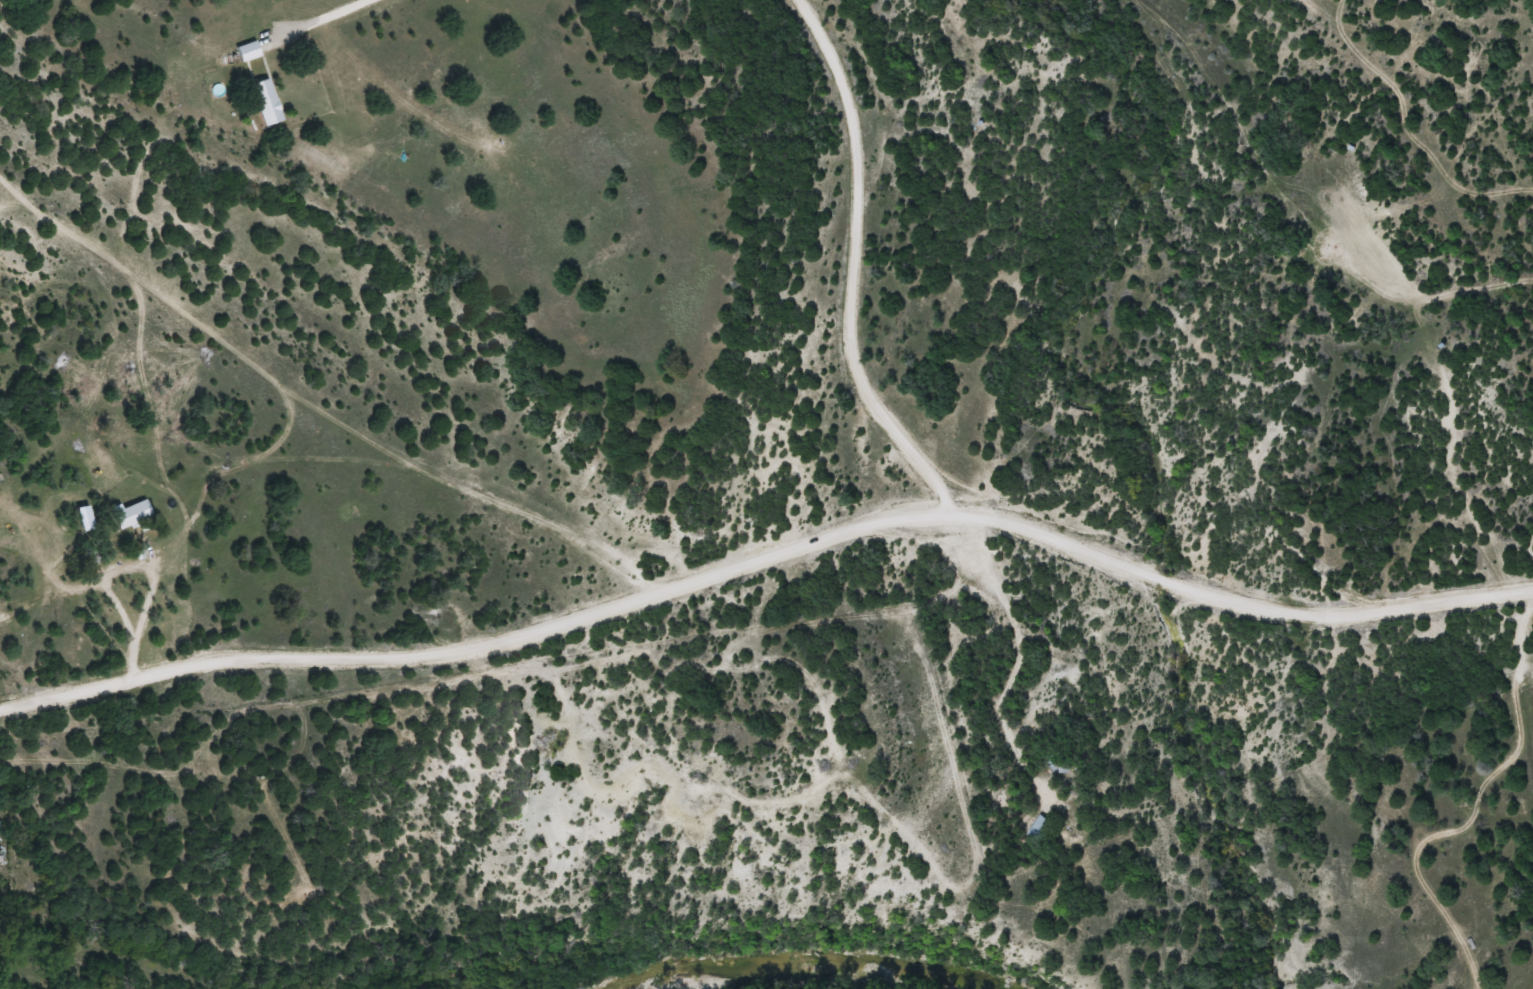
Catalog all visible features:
building: (247, 51)
building: (266, 101)
road: (846, 266)
road: (321, 412)
building: (132, 515)
road: (766, 563)
road: (633, 707)

